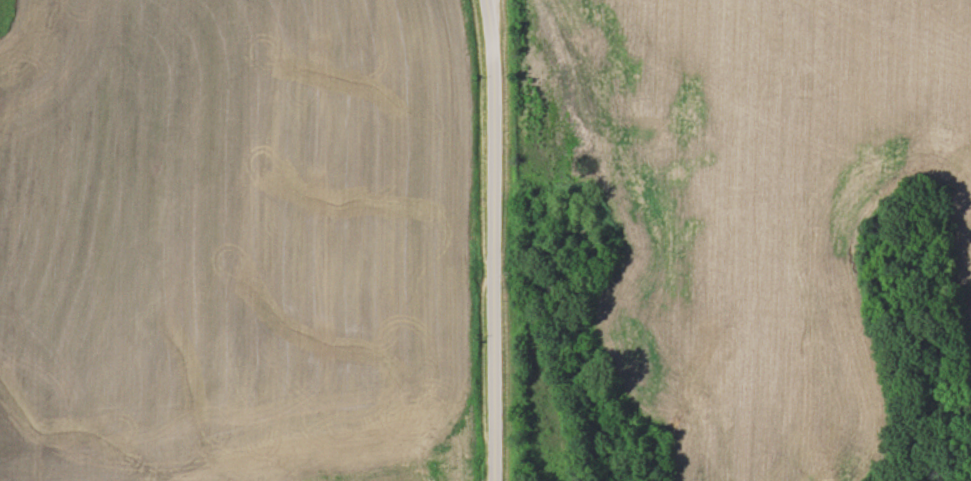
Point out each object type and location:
road: (488, 15)
road: (494, 240)

